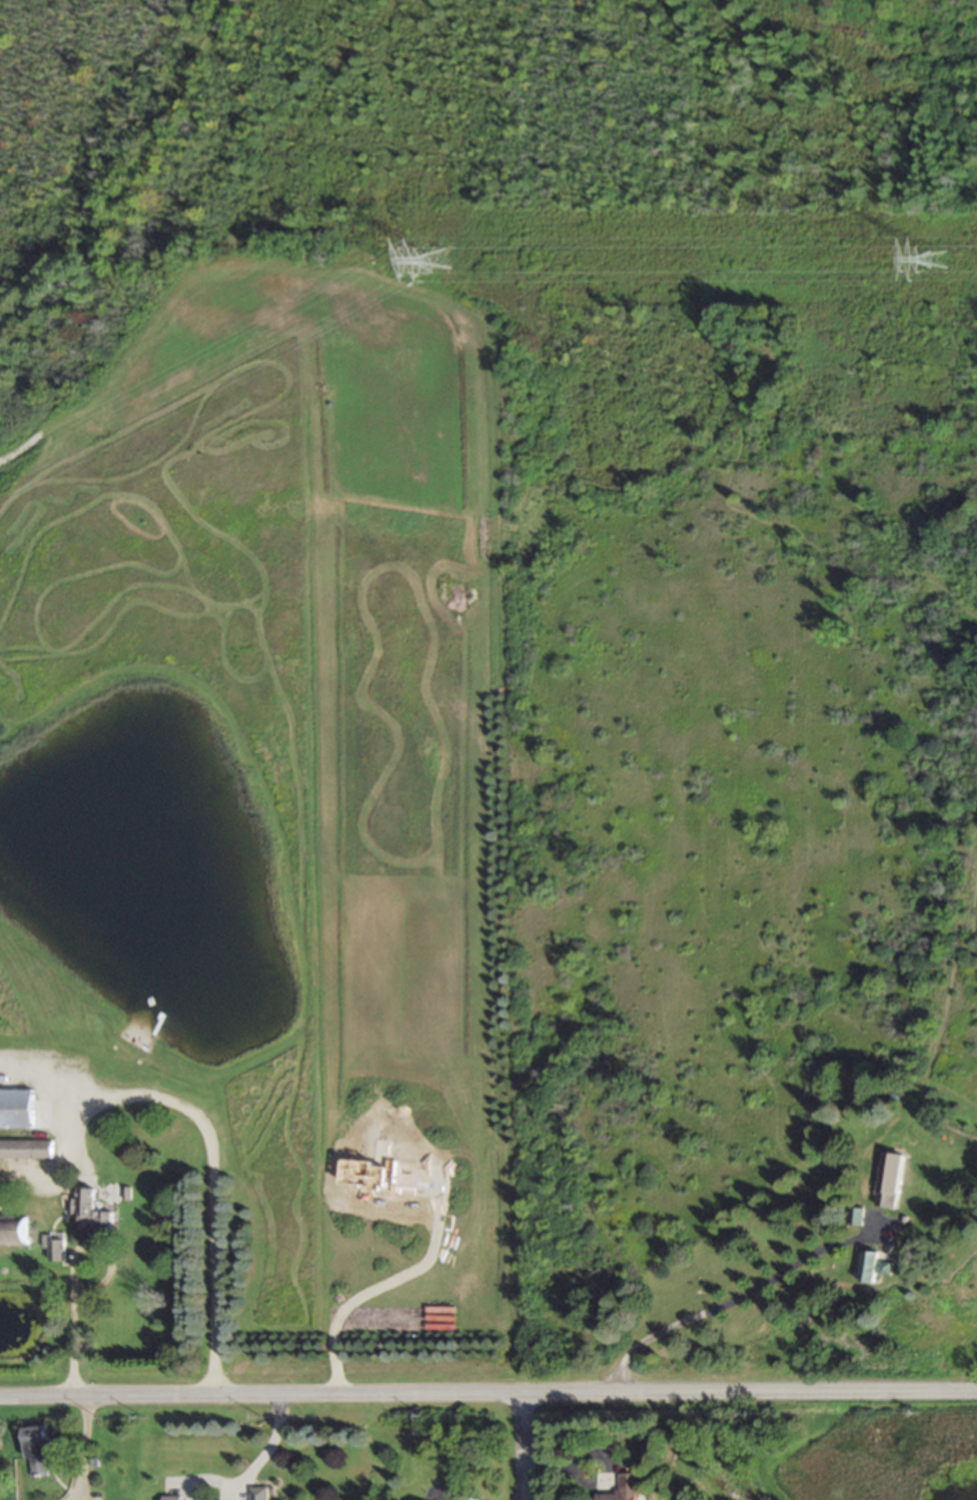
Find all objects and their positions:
power tower: (440, 272)
power tower: (940, 273)
building: (16, 1111)
building: (26, 1151)
road: (210, 1168)
building: (889, 1181)
building: (91, 1214)
building: (855, 1218)
building: (12, 1233)
building: (54, 1250)
building: (873, 1269)
road: (378, 1288)
road: (736, 1302)
road: (71, 1343)
road: (488, 1399)
road: (524, 1449)
building: (38, 1452)
road: (82, 1452)
building: (626, 1489)
building: (260, 1494)
building: (171, 1498)

